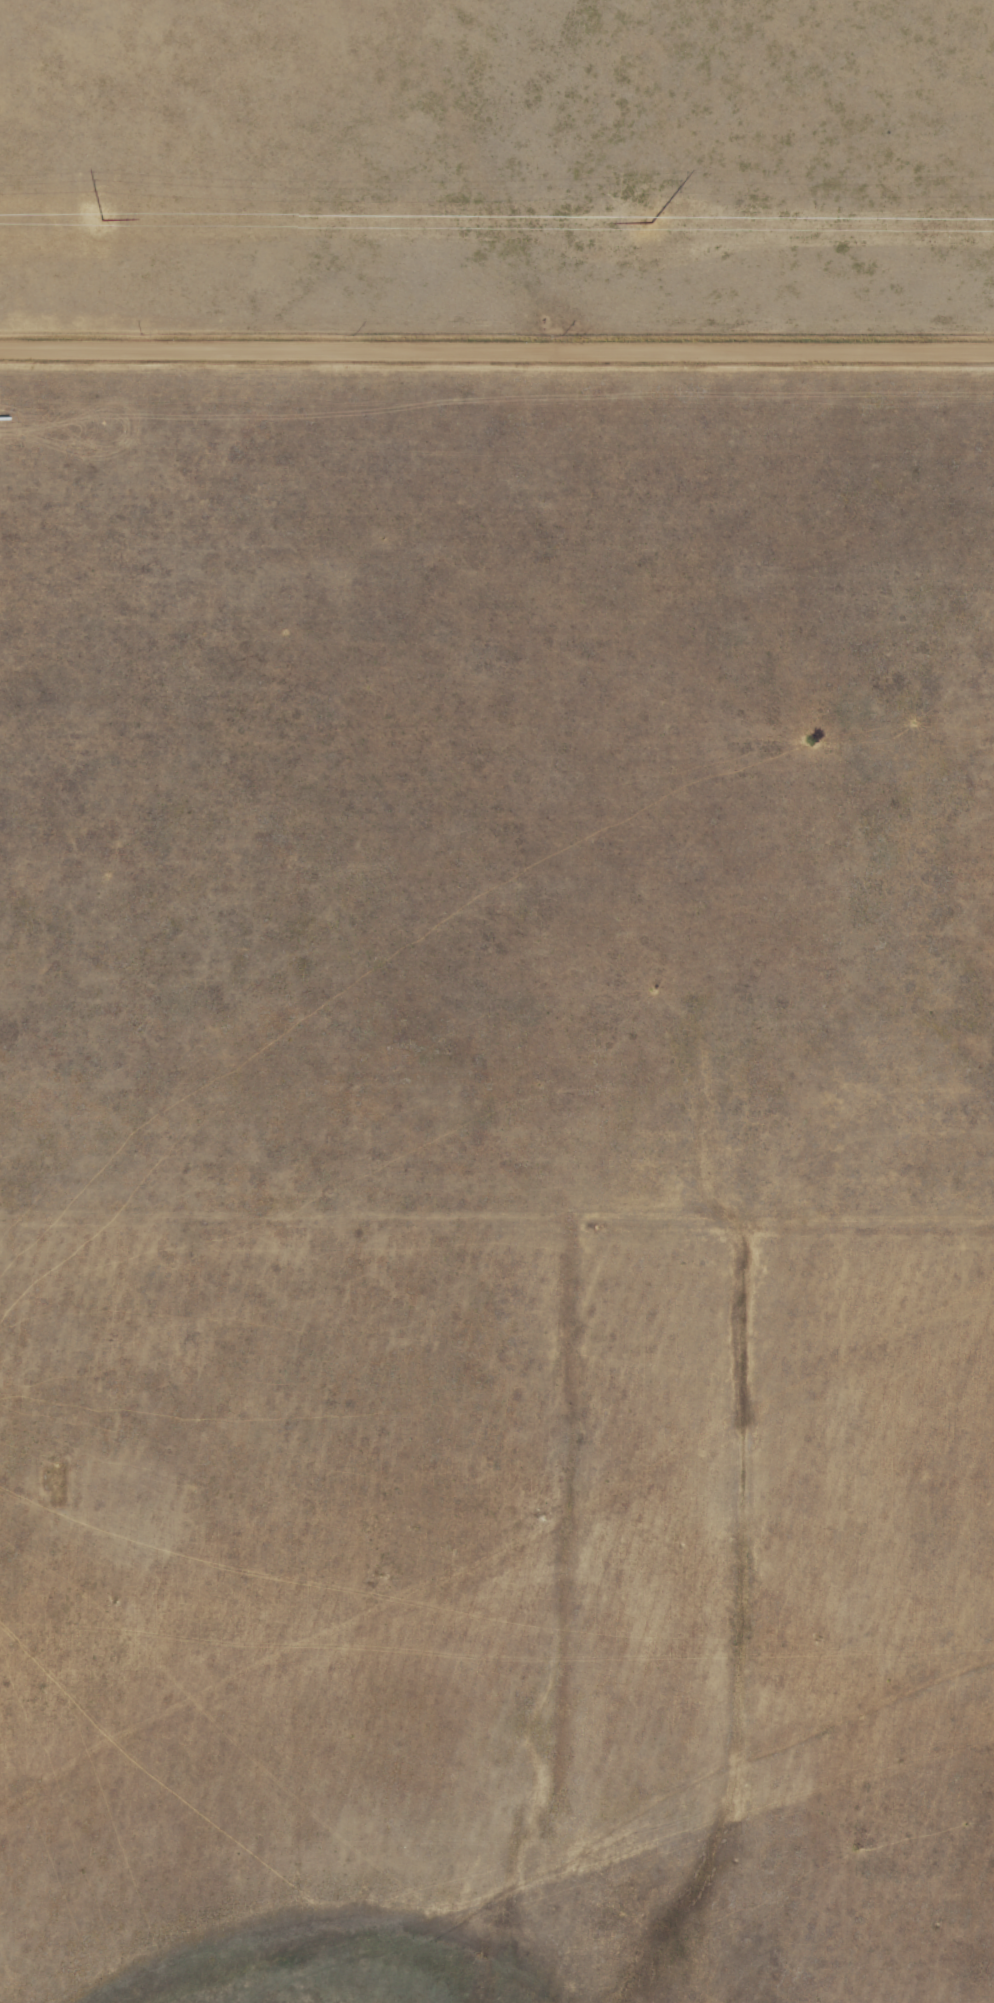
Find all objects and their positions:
road: (497, 352)

